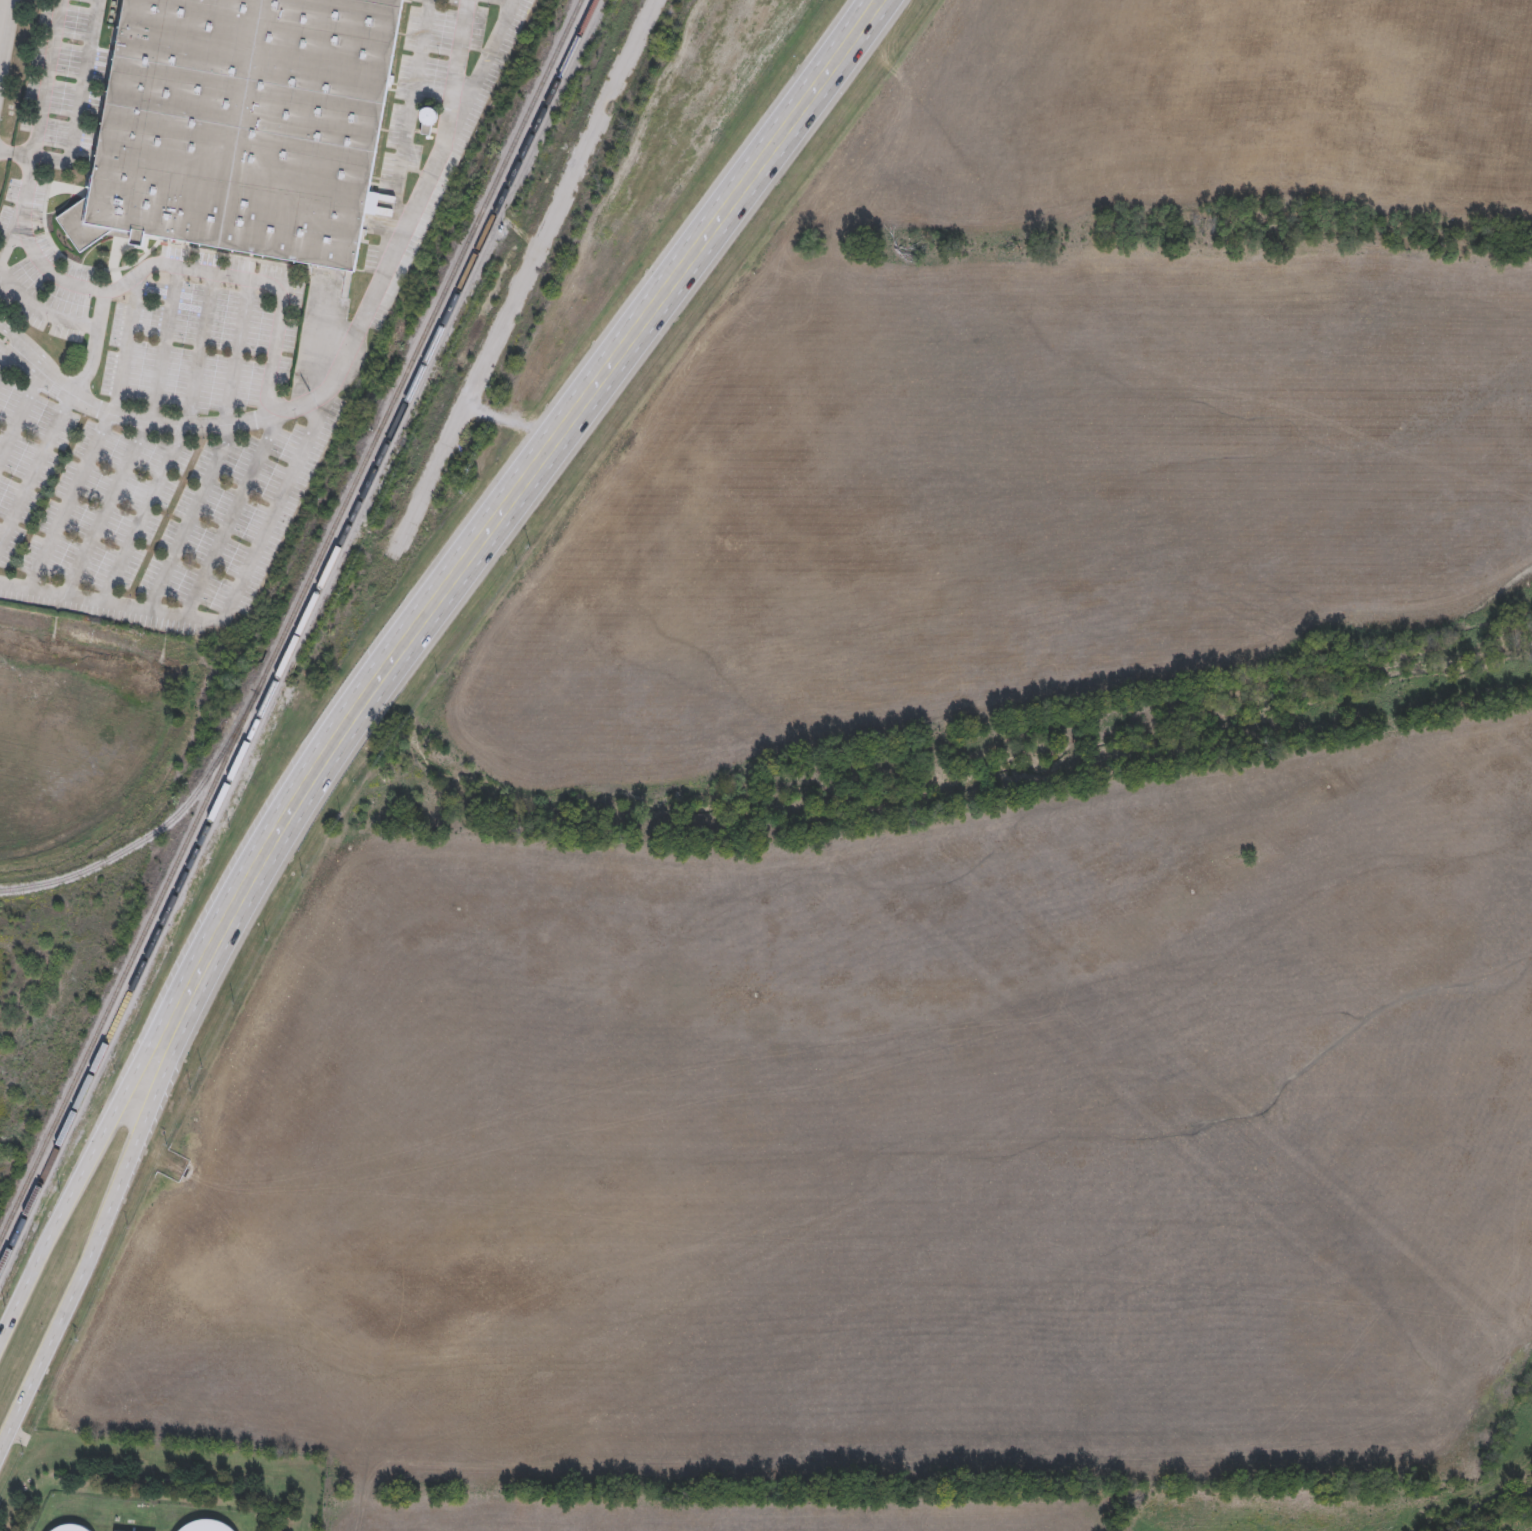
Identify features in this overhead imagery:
building: (414, 29)
road: (8, 42)
road: (457, 72)
road: (48, 77)
road: (82, 97)
storage tank: (427, 115)
building: (430, 123)
building: (240, 125)
crop: (1203, 125)
building: (425, 129)
road: (8, 247)
road: (254, 278)
road: (43, 311)
road: (11, 336)
road: (6, 349)
road: (351, 351)
road: (6, 363)
road: (21, 416)
road: (60, 420)
road: (100, 435)
road: (142, 437)
road: (179, 442)
road: (222, 449)
road: (501, 511)
road: (232, 606)
railway: (285, 625)
railway: (299, 637)
railway: (161, 830)
crop: (920, 939)
road: (72, 1189)
road: (92, 1255)
building: (209, 1527)
building: (69, 1529)

